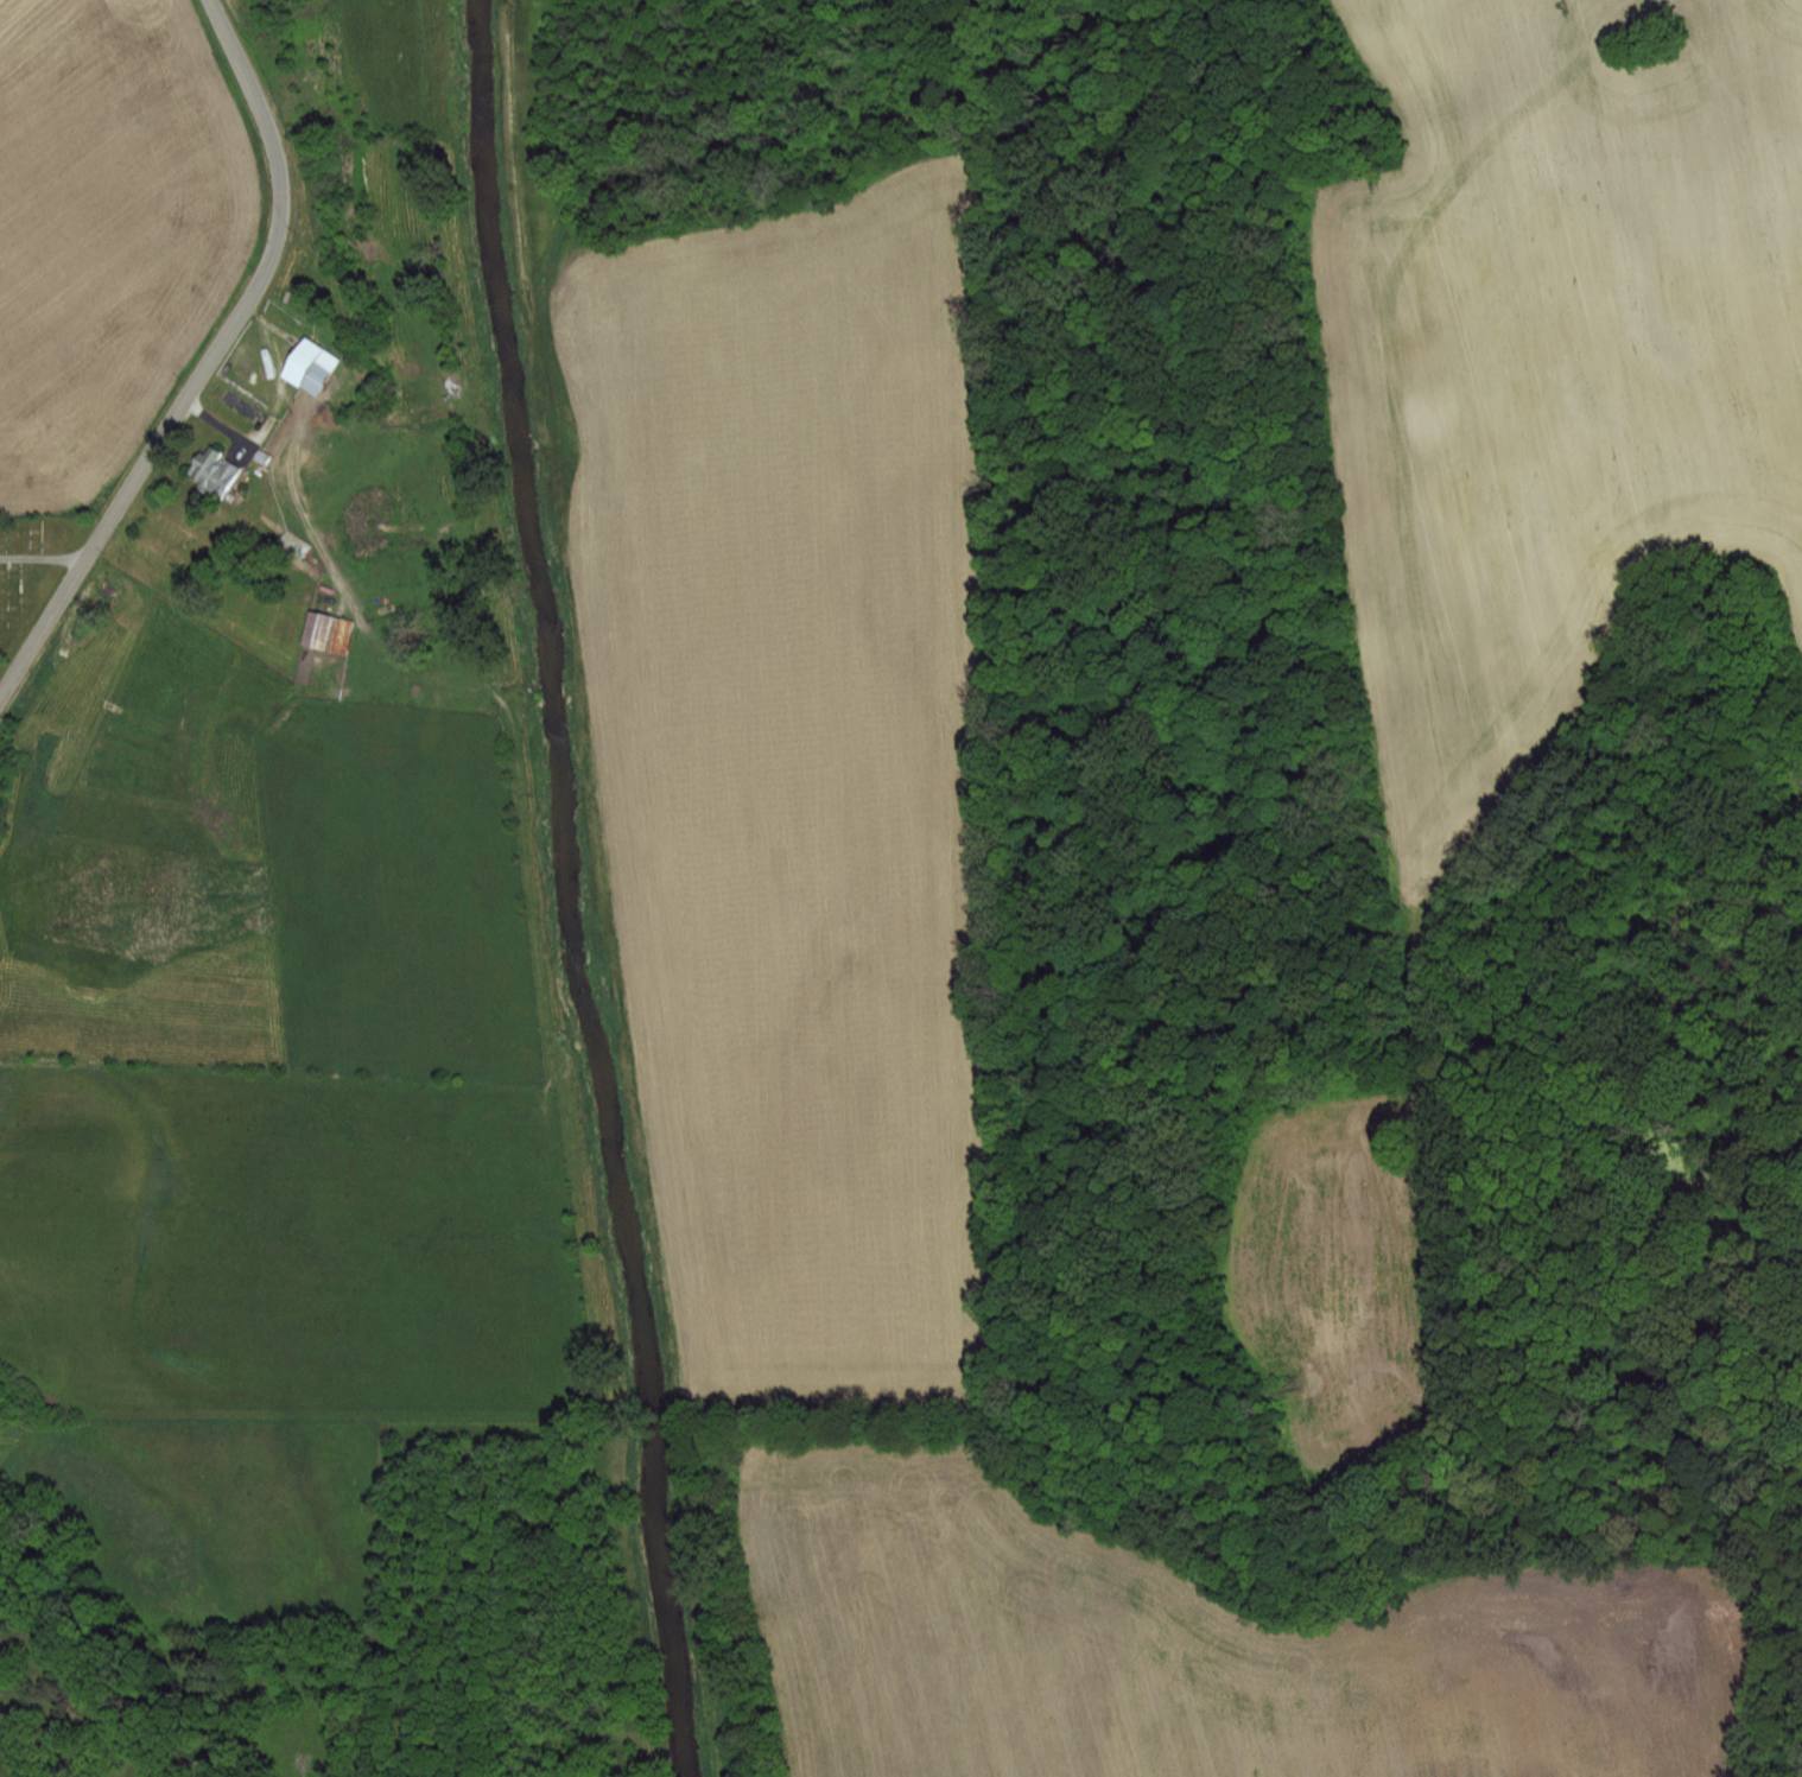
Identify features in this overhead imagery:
road: (203, 356)
crop: (1549, 366)
building: (315, 367)
building: (218, 472)
building: (292, 542)
road: (42, 553)
park: (27, 561)
building: (329, 633)
crop: (783, 755)
river: (565, 890)

